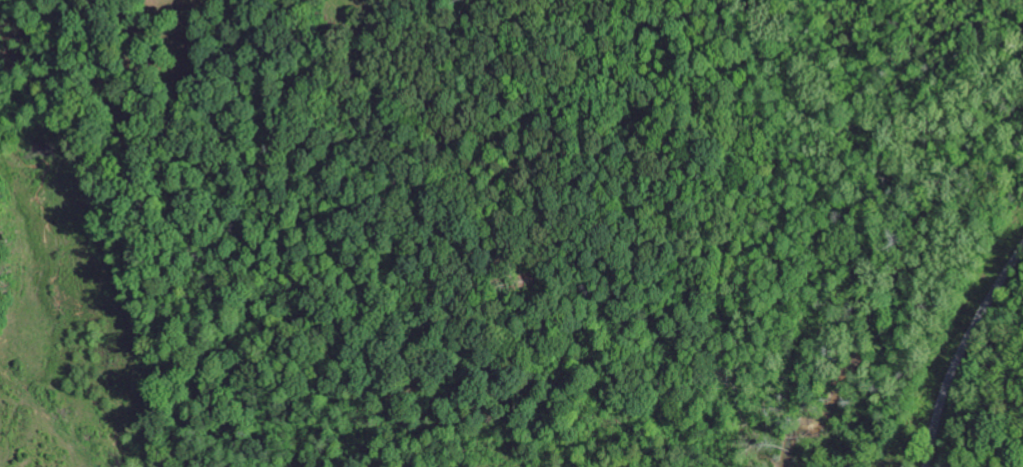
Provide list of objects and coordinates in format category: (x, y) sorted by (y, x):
road: (961, 351)

